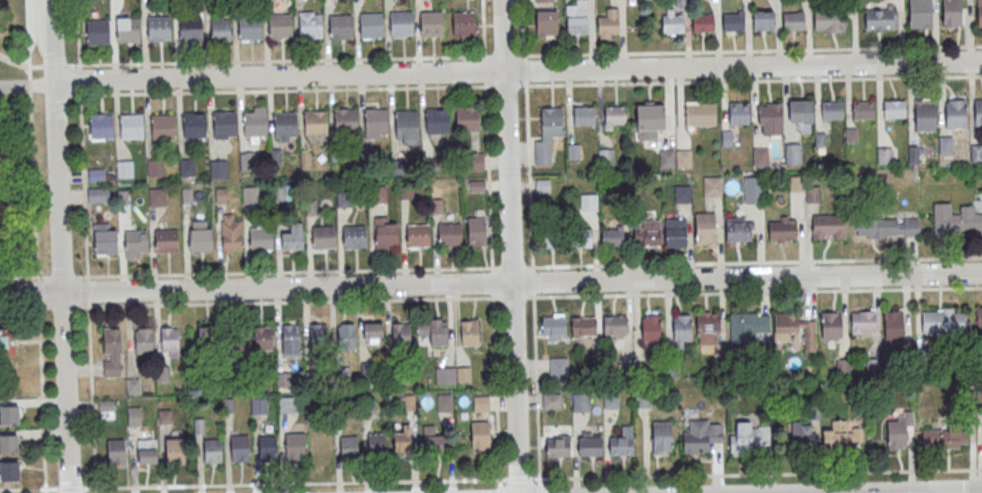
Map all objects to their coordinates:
building: (545, 1)
building: (952, 13)
building: (979, 13)
building: (920, 14)
building: (576, 17)
building: (881, 18)
building: (733, 20)
building: (763, 20)
building: (793, 20)
building: (671, 21)
building: (829, 21)
building: (702, 22)
building: (401, 23)
building: (432, 23)
building: (464, 23)
building: (546, 23)
building: (608, 24)
building: (280, 26)
building: (310, 26)
building: (341, 26)
building: (371, 26)
building: (249, 27)
building: (159, 28)
building: (191, 28)
building: (220, 29)
road: (483, 29)
building: (128, 30)
building: (98, 32)
road: (28, 39)
road: (751, 49)
road: (505, 55)
road: (278, 59)
road: (55, 64)
road: (20, 65)
road: (516, 70)
road: (749, 79)
road: (26, 85)
road: (503, 85)
road: (31, 87)
road: (279, 90)
road: (60, 95)
building: (863, 109)
building: (894, 109)
building: (801, 110)
building: (833, 110)
building: (978, 112)
building: (739, 113)
building: (701, 114)
building: (924, 114)
building: (955, 114)
building: (583, 115)
building: (771, 115)
building: (614, 116)
building: (467, 118)
building: (553, 119)
building: (345, 120)
building: (437, 120)
building: (376, 121)
building: (650, 121)
building: (225, 123)
building: (255, 123)
building: (315, 123)
building: (194, 124)
building: (285, 124)
building: (101, 126)
building: (132, 126)
building: (163, 126)
building: (406, 126)
building: (852, 136)
road: (82, 139)
building: (945, 144)
building: (976, 152)
building: (793, 153)
building: (914, 154)
building: (885, 155)
building: (761, 156)
building: (606, 158)
building: (667, 158)
building: (684, 158)
road: (488, 164)
building: (187, 166)
building: (124, 168)
building: (218, 168)
park: (15, 182)
building: (797, 183)
building: (711, 188)
road: (34, 189)
building: (682, 193)
building: (814, 193)
building: (752, 194)
building: (98, 195)
building: (249, 195)
building: (157, 196)
building: (589, 201)
building: (954, 220)
building: (829, 225)
building: (782, 228)
building: (887, 228)
building: (738, 229)
building: (705, 230)
building: (476, 231)
building: (675, 233)
building: (231, 234)
building: (387, 235)
building: (450, 235)
building: (646, 235)
building: (418, 236)
building: (294, 237)
building: (324, 237)
building: (355, 237)
building: (549, 238)
building: (578, 238)
building: (611, 238)
building: (261, 239)
building: (166, 240)
building: (201, 240)
building: (106, 242)
building: (136, 242)
road: (58, 246)
road: (508, 246)
road: (531, 246)
road: (755, 262)
road: (513, 267)
road: (289, 271)
road: (63, 276)
road: (22, 277)
road: (492, 281)
road: (491, 284)
road: (89, 291)
road: (754, 291)
road: (39, 293)
road: (512, 296)
road: (292, 301)
road: (66, 305)
road: (23, 306)
building: (943, 321)
building: (979, 321)
building: (862, 322)
building: (739, 323)
building: (706, 325)
building: (614, 326)
building: (832, 326)
building: (893, 326)
building: (583, 327)
building: (552, 328)
building: (682, 328)
building: (792, 328)
building: (651, 329)
building: (433, 331)
building: (372, 332)
building: (400, 332)
building: (469, 333)
building: (345, 335)
building: (317, 336)
building: (143, 340)
building: (208, 340)
building: (290, 340)
building: (256, 341)
building: (7, 342)
building: (169, 342)
building: (111, 351)
building: (558, 368)
building: (463, 374)
building: (445, 375)
road: (496, 393)
road: (42, 398)
road: (92, 398)
building: (551, 400)
building: (444, 402)
building: (581, 402)
building: (480, 403)
building: (9, 415)
building: (802, 433)
building: (700, 434)
building: (842, 434)
building: (897, 434)
building: (957, 434)
building: (479, 435)
building: (661, 437)
building: (750, 437)
building: (403, 439)
building: (431, 440)
building: (622, 442)
building: (376, 443)
building: (590, 444)
building: (9, 445)
building: (348, 445)
building: (557, 445)
building: (295, 446)
building: (322, 447)
building: (239, 448)
building: (267, 448)
building: (174, 450)
building: (212, 450)
building: (115, 451)
building: (146, 451)
building: (10, 471)
road: (756, 473)
road: (519, 479)
road: (294, 484)
road: (71, 490)
road: (30, 491)
road: (923, 492)
road: (928, 492)
road: (938, 492)
road: (957, 492)

